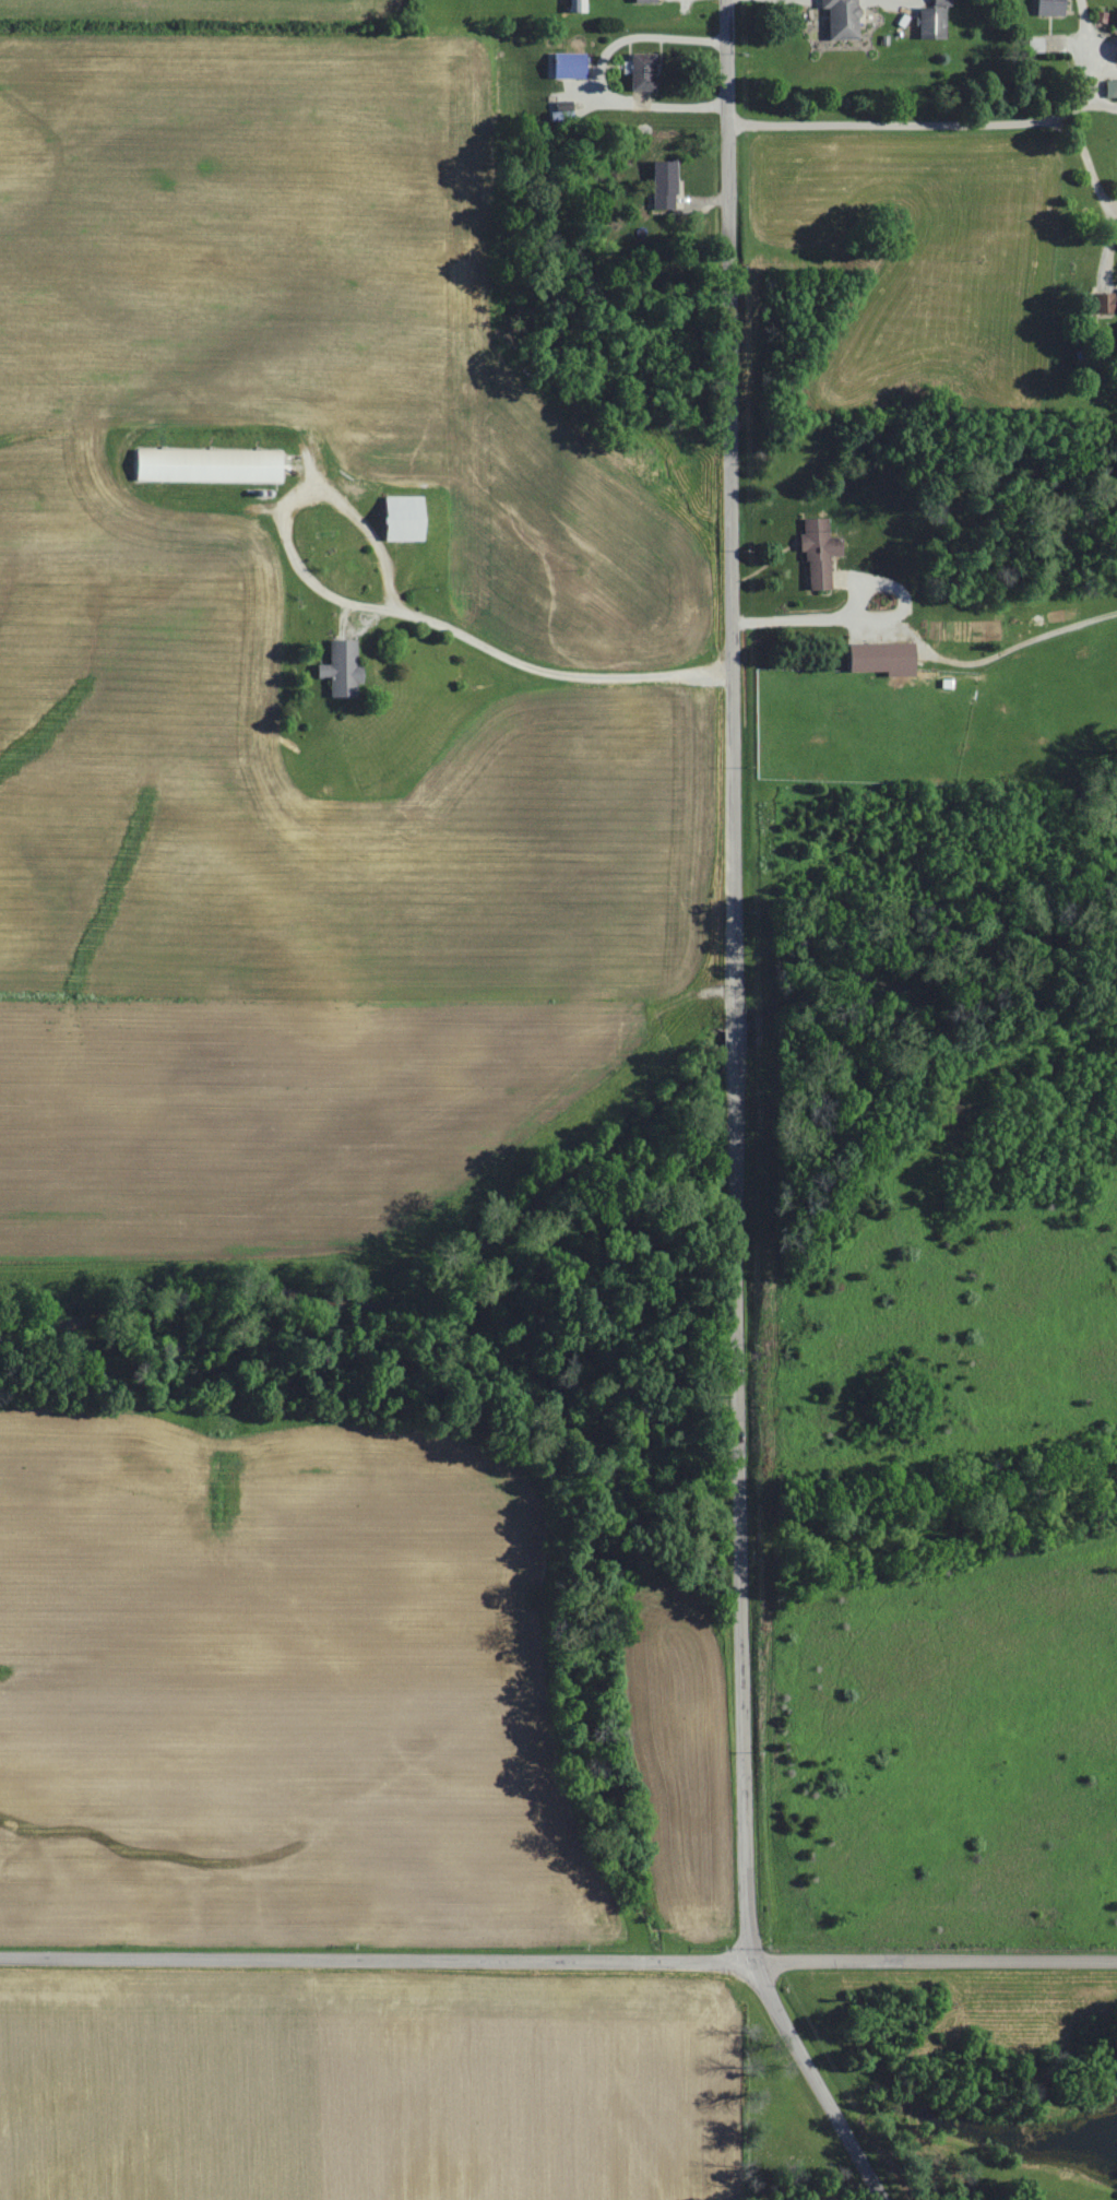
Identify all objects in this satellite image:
building: (641, 1)
building: (1047, 8)
building: (839, 19)
building: (928, 24)
building: (1032, 45)
building: (1115, 52)
building: (566, 67)
building: (639, 72)
building: (1109, 91)
road: (950, 117)
building: (661, 187)
building: (1104, 305)
building: (204, 466)
building: (397, 520)
building: (816, 553)
road: (376, 611)
building: (878, 660)
building: (337, 669)
road: (712, 1120)
road: (558, 1961)

